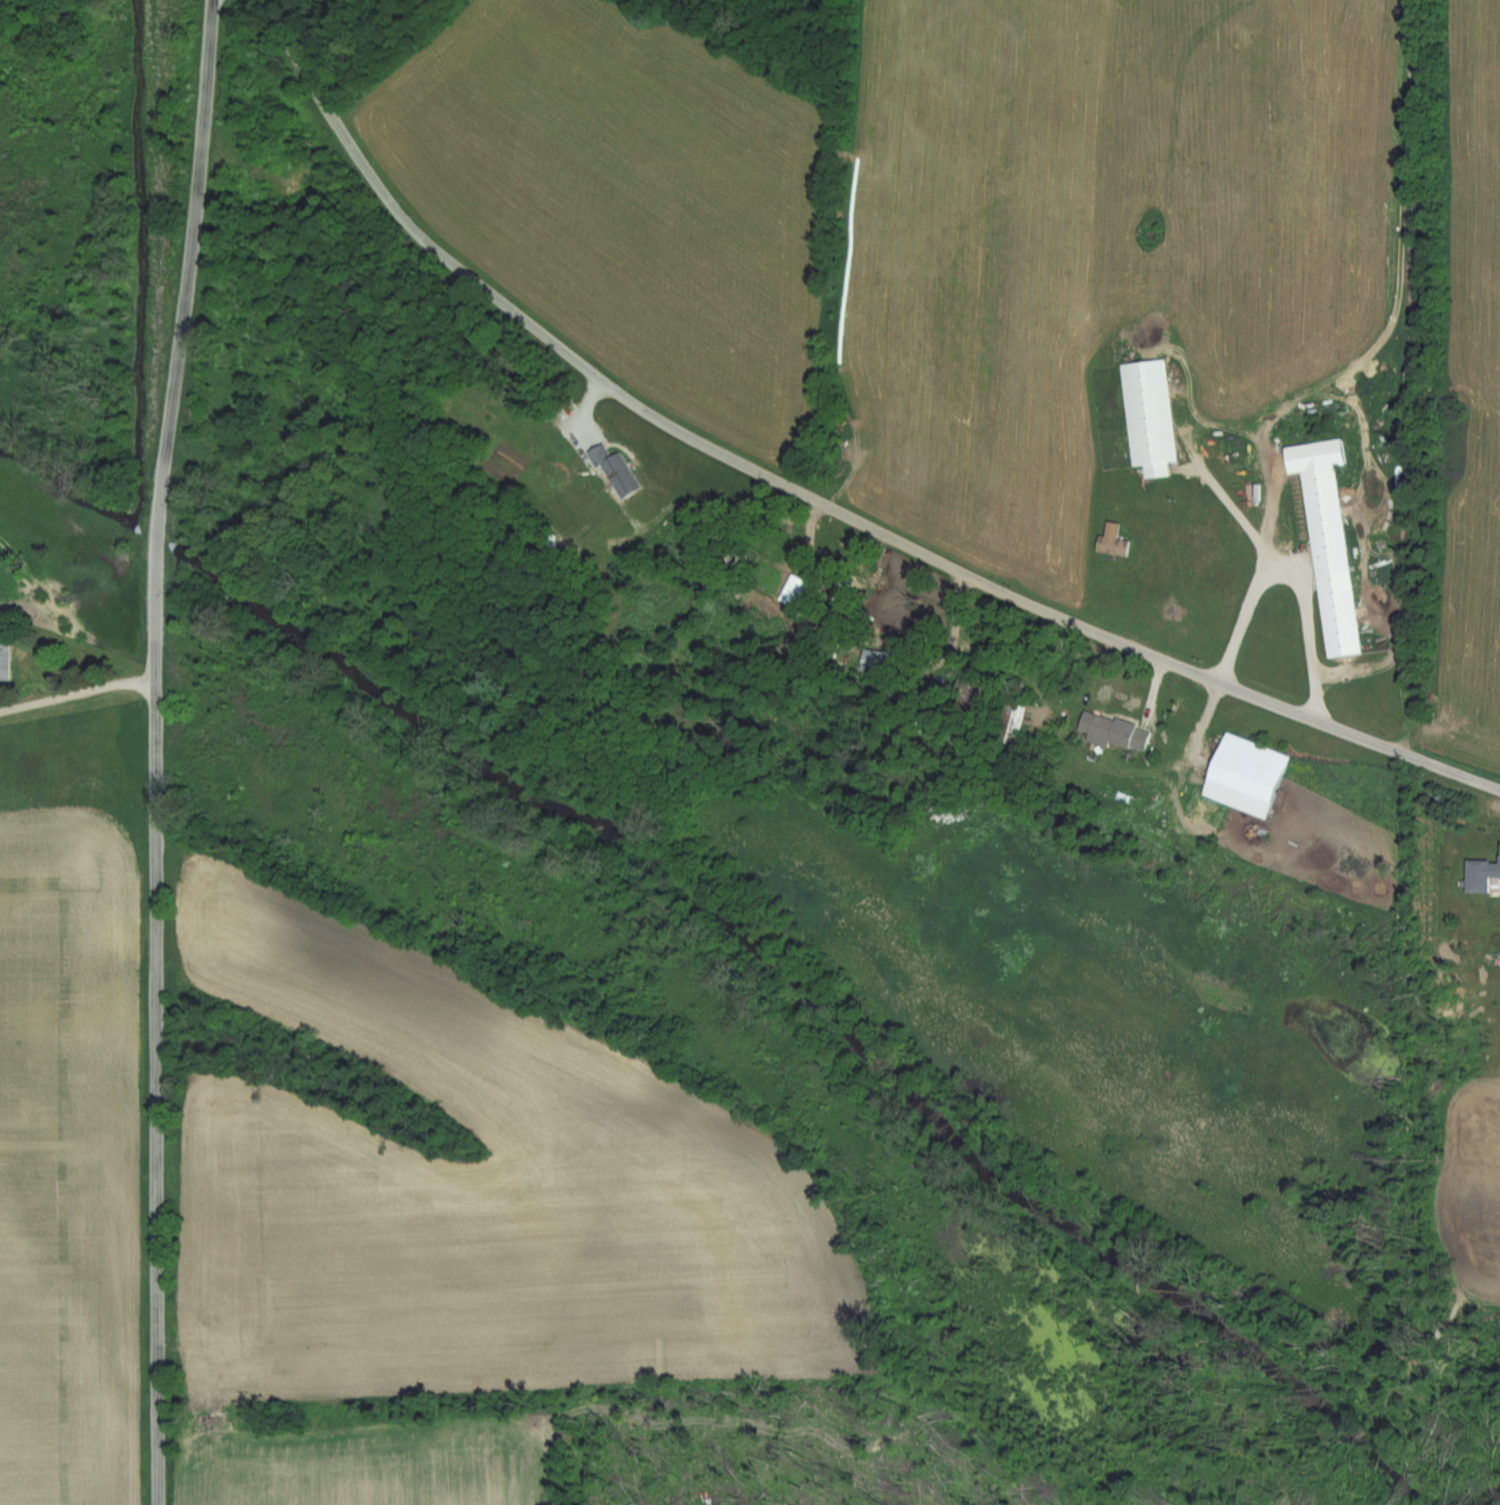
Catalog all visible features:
building: (1146, 416)
building: (612, 470)
road: (807, 496)
building: (1108, 540)
building: (1324, 542)
building: (871, 660)
building: (3, 661)
building: (1110, 731)
road: (154, 750)
building: (1241, 775)
building: (1479, 873)

